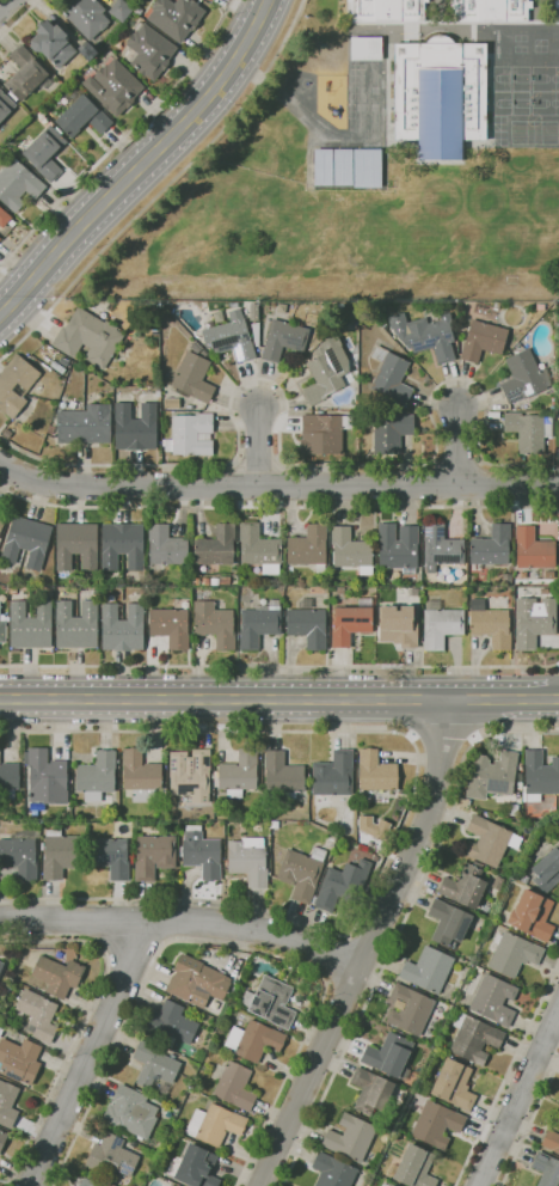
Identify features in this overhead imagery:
building: (210, 0)
road: (4, 4)
building: (557, 4)
building: (121, 10)
building: (387, 10)
building: (491, 10)
building: (558, 11)
building: (85, 16)
building: (176, 17)
road: (18, 18)
building: (53, 43)
building: (365, 49)
building: (87, 50)
building: (148, 50)
building: (25, 74)
park: (503, 79)
park: (521, 79)
park: (546, 79)
building: (112, 86)
building: (440, 96)
park: (503, 103)
park: (521, 103)
building: (5, 104)
park: (546, 104)
building: (81, 115)
road: (122, 137)
building: (45, 152)
road: (142, 163)
building: (322, 166)
building: (342, 166)
building: (367, 167)
building: (18, 184)
road: (164, 189)
building: (5, 219)
building: (0, 238)
building: (496, 305)
building: (253, 312)
building: (254, 332)
building: (425, 335)
building: (88, 337)
building: (231, 337)
building: (284, 338)
building: (483, 340)
building: (197, 349)
building: (57, 367)
building: (326, 369)
building: (391, 375)
building: (193, 377)
building: (523, 377)
building: (16, 385)
building: (172, 403)
building: (520, 408)
building: (84, 424)
building: (135, 427)
building: (391, 432)
building: (528, 432)
building: (6, 433)
building: (322, 434)
building: (190, 435)
road: (258, 447)
road: (457, 447)
road: (282, 453)
road: (277, 487)
road: (277, 506)
building: (0, 509)
building: (1, 522)
building: (26, 542)
building: (76, 544)
building: (122, 545)
building: (166, 546)
building: (216, 546)
building: (308, 546)
building: (398, 548)
building: (441, 548)
building: (490, 548)
building: (259, 549)
building: (350, 549)
building: (533, 550)
building: (202, 569)
building: (548, 574)
building: (506, 579)
building: (205, 581)
building: (214, 581)
building: (223, 581)
building: (339, 591)
building: (543, 591)
building: (306, 604)
building: (534, 620)
building: (350, 622)
building: (30, 624)
building: (76, 624)
building: (214, 624)
building: (259, 624)
building: (490, 624)
building: (399, 625)
building: (440, 625)
building: (170, 626)
building: (307, 626)
building: (122, 628)
building: (2, 629)
road: (279, 665)
road: (279, 698)
road: (442, 738)
building: (375, 771)
building: (190, 774)
building: (239, 774)
building: (283, 775)
building: (333, 775)
building: (492, 775)
building: (540, 775)
building: (97, 776)
building: (140, 776)
building: (518, 776)
building: (47, 777)
building: (8, 778)
road: (407, 812)
building: (30, 815)
building: (370, 826)
building: (489, 840)
building: (42, 845)
building: (201, 852)
building: (20, 854)
building: (60, 854)
building: (153, 855)
building: (110, 856)
building: (248, 861)
building: (547, 869)
building: (301, 873)
building: (524, 878)
building: (342, 884)
building: (465, 886)
building: (485, 909)
building: (533, 915)
road: (184, 919)
building: (448, 922)
road: (400, 924)
road: (131, 941)
road: (164, 942)
road: (227, 944)
road: (100, 946)
road: (370, 947)
building: (512, 952)
road: (337, 958)
building: (1, 966)
building: (428, 970)
building: (478, 970)
building: (57, 974)
building: (196, 982)
building: (493, 999)
building: (270, 1002)
building: (408, 1009)
building: (37, 1014)
road: (82, 1021)
building: (171, 1023)
building: (1, 1031)
building: (473, 1038)
building: (253, 1040)
road: (88, 1054)
building: (389, 1054)
building: (19, 1060)
building: (155, 1068)
road: (506, 1074)
building: (233, 1084)
building: (451, 1084)
building: (370, 1090)
road: (520, 1100)
building: (7, 1105)
building: (131, 1112)
road: (529, 1123)
building: (214, 1124)
building: (436, 1124)
building: (2, 1137)
building: (350, 1137)
building: (551, 1141)
building: (111, 1155)
building: (196, 1167)
building: (413, 1167)
building: (546, 1169)
building: (332, 1170)
building: (87, 1182)
building: (383, 1184)
building: (167, 1185)
building: (391, 1185)

